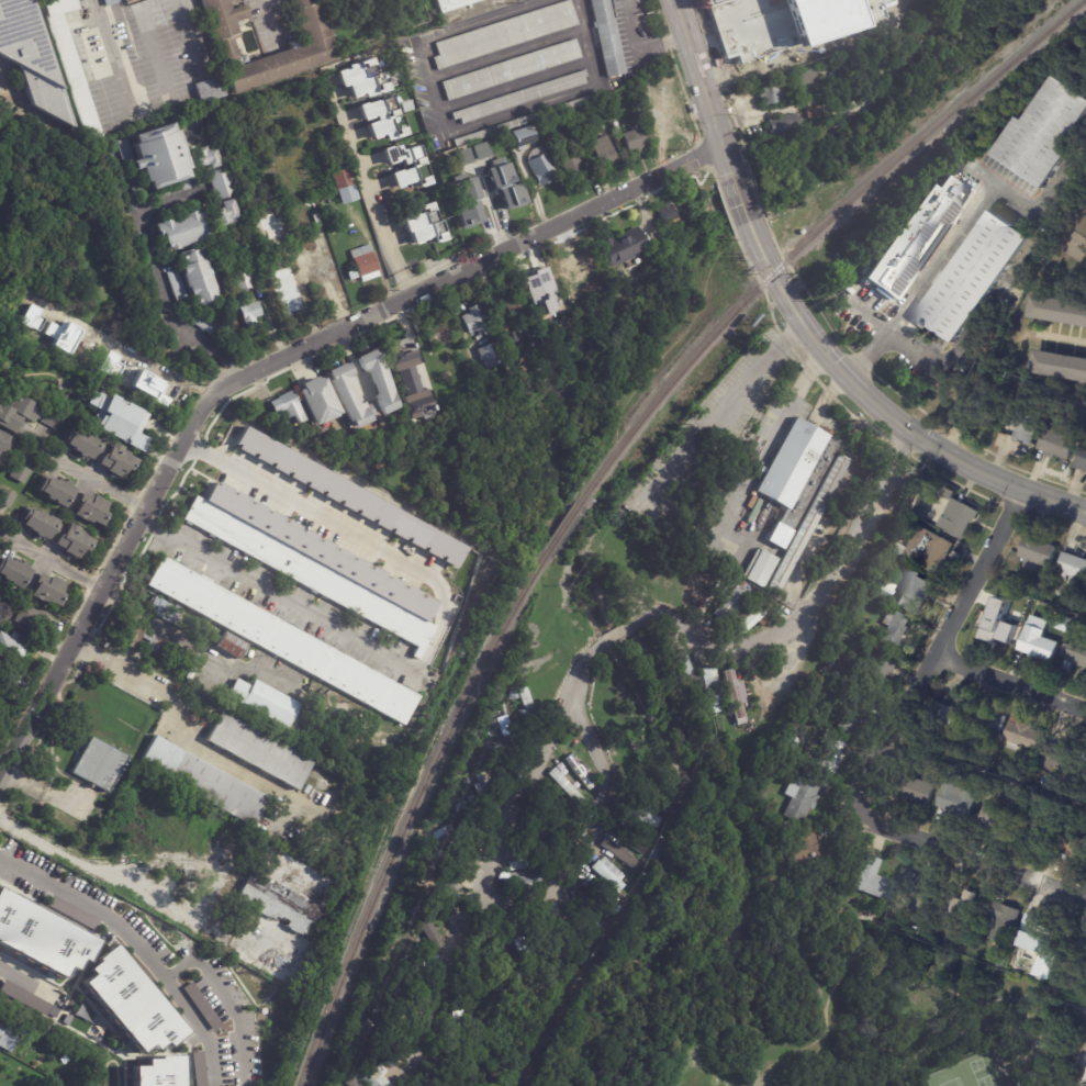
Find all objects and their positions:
building: (52, 1)
building: (112, 2)
building: (447, 5)
building: (192, 9)
road: (127, 11)
road: (271, 18)
road: (187, 34)
building: (504, 34)
building: (620, 34)
building: (606, 37)
building: (311, 45)
road: (152, 48)
road: (638, 52)
building: (31, 57)
road: (113, 59)
building: (761, 63)
building: (71, 65)
building: (511, 70)
building: (363, 78)
building: (785, 80)
road: (703, 83)
building: (807, 85)
building: (208, 89)
building: (773, 93)
road: (734, 96)
building: (519, 98)
building: (168, 102)
building: (819, 110)
building: (811, 112)
road: (755, 115)
building: (382, 119)
building: (524, 121)
building: (783, 124)
building: (600, 130)
building: (1045, 134)
building: (520, 136)
building: (635, 139)
building: (493, 142)
building: (460, 150)
building: (481, 150)
building: (604, 153)
building: (158, 156)
building: (573, 167)
building: (541, 169)
building: (414, 170)
building: (217, 184)
building: (345, 187)
building: (505, 187)
road: (366, 188)
building: (470, 189)
road: (169, 203)
road: (744, 210)
building: (667, 213)
building: (272, 220)
building: (423, 225)
building: (179, 231)
railway: (814, 234)
building: (916, 237)
building: (622, 246)
road: (148, 251)
building: (363, 264)
building: (578, 268)
building: (973, 278)
building: (193, 279)
building: (243, 280)
road: (930, 280)
building: (539, 286)
building: (286, 289)
building: (42, 303)
building: (517, 310)
building: (1059, 311)
building: (249, 312)
building: (187, 315)
building: (34, 321)
building: (474, 321)
building: (206, 326)
building: (439, 335)
road: (1059, 336)
building: (110, 342)
road: (138, 346)
building: (405, 346)
building: (514, 346)
building: (490, 355)
road: (222, 357)
road: (269, 363)
building: (540, 363)
road: (213, 366)
building: (506, 366)
building: (1059, 366)
building: (4, 368)
building: (131, 373)
building: (447, 377)
building: (378, 382)
building: (413, 393)
building: (349, 395)
building: (983, 396)
building: (99, 398)
building: (318, 402)
building: (288, 404)
road: (727, 404)
building: (16, 412)
road: (787, 414)
building: (395, 415)
building: (49, 416)
road: (893, 418)
building: (116, 419)
building: (695, 425)
building: (735, 425)
building: (1022, 427)
building: (4, 441)
building: (1057, 445)
building: (100, 451)
building: (1082, 460)
building: (797, 469)
building: (19, 472)
building: (948, 493)
building: (5, 496)
building: (349, 496)
building: (75, 500)
building: (958, 519)
building: (808, 525)
building: (904, 525)
railway: (563, 529)
building: (56, 531)
road: (355, 533)
building: (780, 537)
building: (897, 550)
building: (928, 550)
building: (648, 551)
building: (1034, 553)
building: (618, 560)
building: (1071, 568)
building: (760, 569)
building: (307, 570)
building: (681, 574)
road: (240, 578)
building: (31, 581)
building: (886, 593)
building: (915, 593)
building: (702, 596)
road: (814, 597)
building: (731, 601)
building: (1004, 602)
building: (163, 609)
building: (23, 615)
road: (142, 615)
building: (749, 617)
building: (1062, 624)
building: (569, 626)
building: (847, 626)
road: (624, 630)
building: (893, 630)
building: (992, 635)
building: (138, 637)
building: (283, 639)
building: (1034, 642)
building: (231, 643)
building: (12, 646)
building: (855, 648)
road: (934, 652)
building: (557, 656)
building: (1073, 656)
building: (830, 660)
building: (826, 670)
building: (686, 673)
building: (874, 674)
building: (840, 675)
building: (11, 681)
road: (1009, 682)
building: (519, 684)
building: (526, 684)
building: (713, 690)
building: (612, 694)
building: (513, 695)
building: (736, 697)
building: (264, 699)
building: (525, 707)
building: (853, 717)
building: (944, 717)
building: (987, 720)
building: (504, 724)
road: (181, 726)
building: (1021, 734)
building: (302, 738)
building: (311, 742)
building: (260, 750)
building: (831, 752)
building: (1057, 759)
building: (100, 763)
building: (499, 765)
building: (954, 768)
building: (1083, 768)
building: (582, 772)
building: (203, 777)
building: (994, 780)
building: (652, 785)
building: (567, 787)
building: (482, 788)
building: (916, 791)
building: (1056, 791)
building: (1010, 793)
building: (1029, 796)
building: (799, 798)
building: (955, 799)
building: (471, 802)
building: (639, 813)
railway: (411, 814)
building: (664, 815)
building: (562, 816)
building: (469, 821)
building: (994, 821)
building: (1032, 829)
road: (589, 833)
building: (541, 837)
building: (628, 839)
building: (1070, 848)
building: (459, 853)
building: (619, 853)
road: (492, 857)
building: (657, 857)
building: (811, 857)
road: (967, 858)
building: (529, 860)
road: (85, 866)
building: (640, 869)
building: (609, 875)
building: (525, 878)
building: (455, 881)
building: (873, 882)
building: (918, 894)
building: (625, 895)
building: (797, 895)
building: (604, 896)
building: (443, 902)
building: (969, 902)
building: (279, 914)
building: (869, 919)
building: (999, 919)
building: (424, 925)
building: (560, 925)
building: (547, 926)
building: (536, 927)
building: (42, 936)
building: (518, 936)
building: (1038, 940)
building: (492, 941)
building: (508, 944)
road: (136, 947)
building: (1076, 949)
building: (418, 950)
building: (412, 972)
road: (22, 979)
building: (392, 987)
building: (24, 998)
building: (392, 1000)
building: (130, 1001)
road: (227, 1001)
park: (847, 1008)
building: (16, 1029)
building: (448, 1029)
building: (395, 1039)
building: (5, 1040)
building: (381, 1051)
building: (198, 1068)
building: (157, 1072)
building: (370, 1075)
building: (438, 1075)
park: (981, 1076)
building: (351, 1082)
park: (951, 1082)
road: (1085, 1084)

